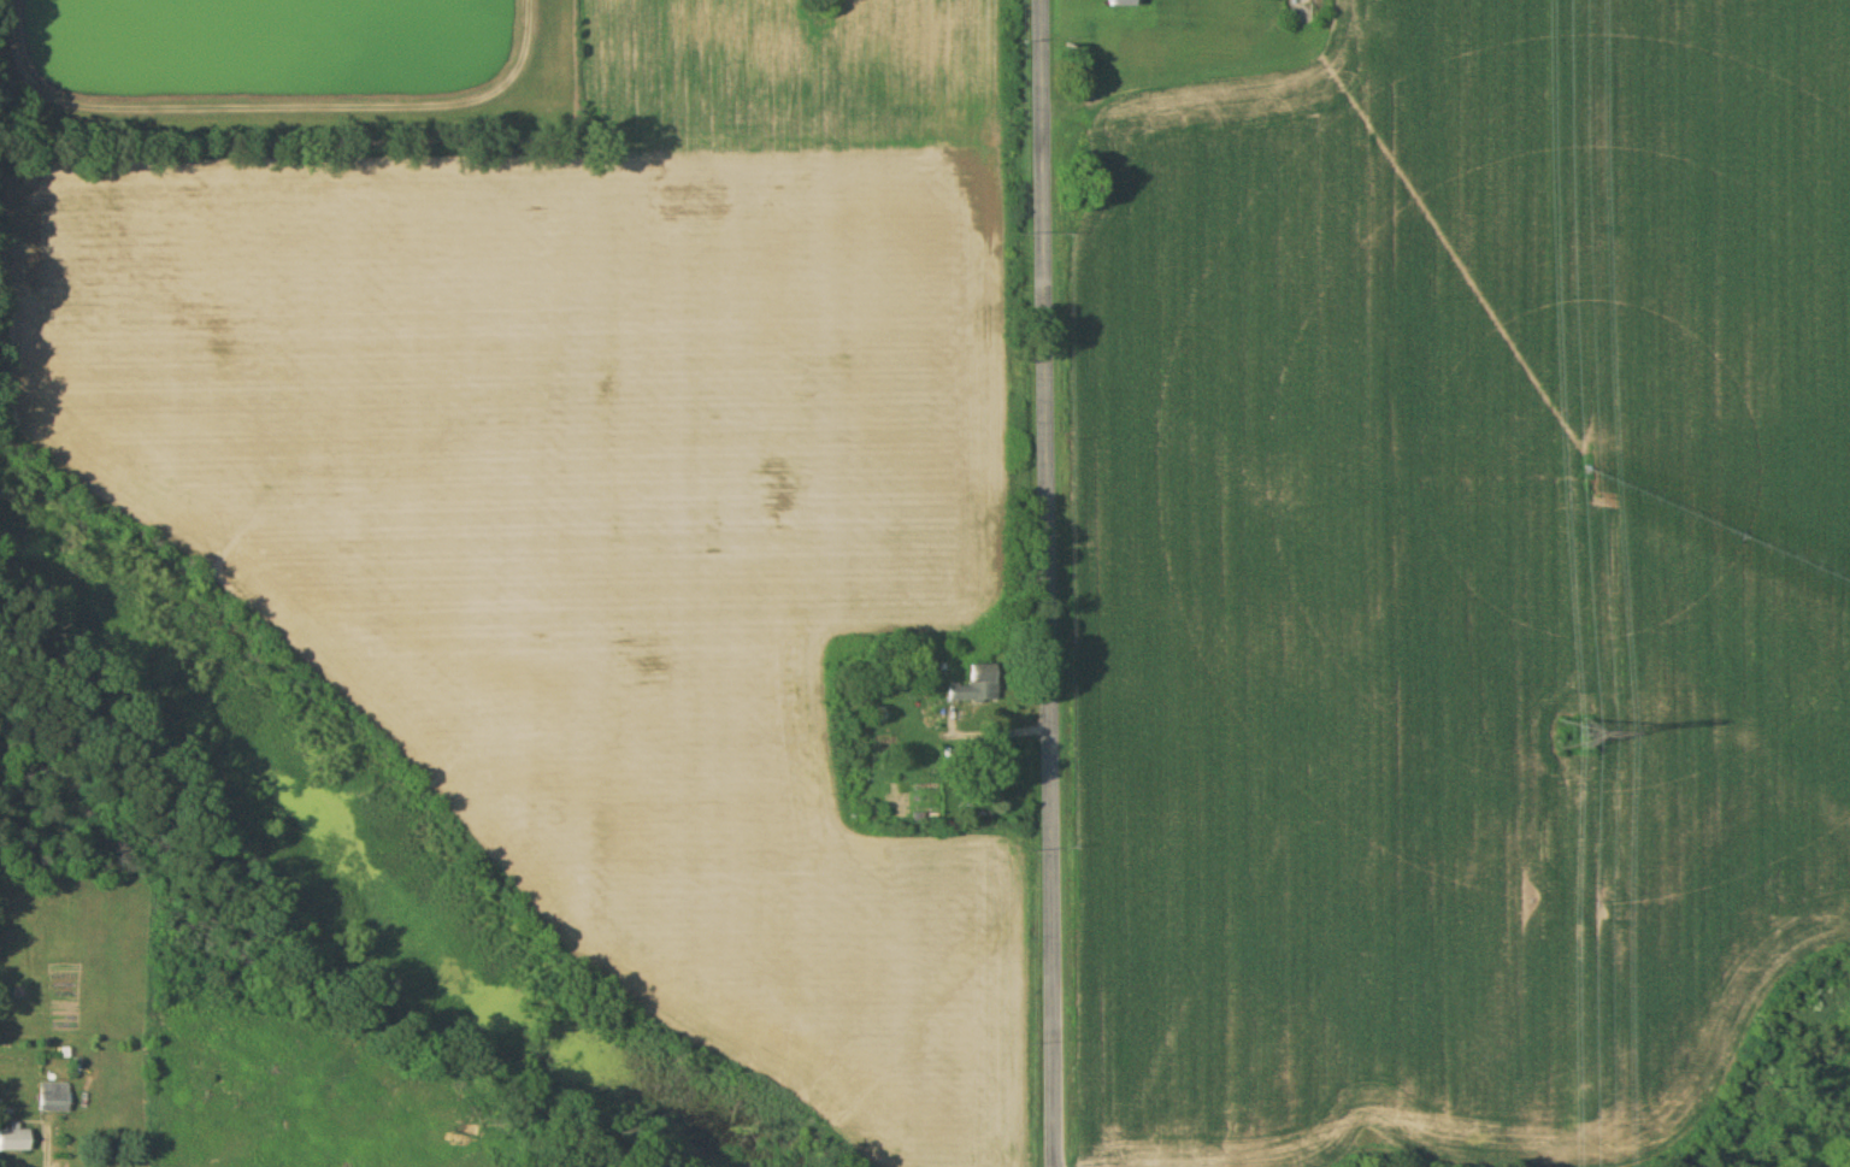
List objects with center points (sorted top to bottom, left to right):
building: (1120, 2)
road: (270, 107)
road: (1048, 583)
building: (976, 686)
power tower: (1575, 735)
building: (53, 1098)
building: (14, 1139)

